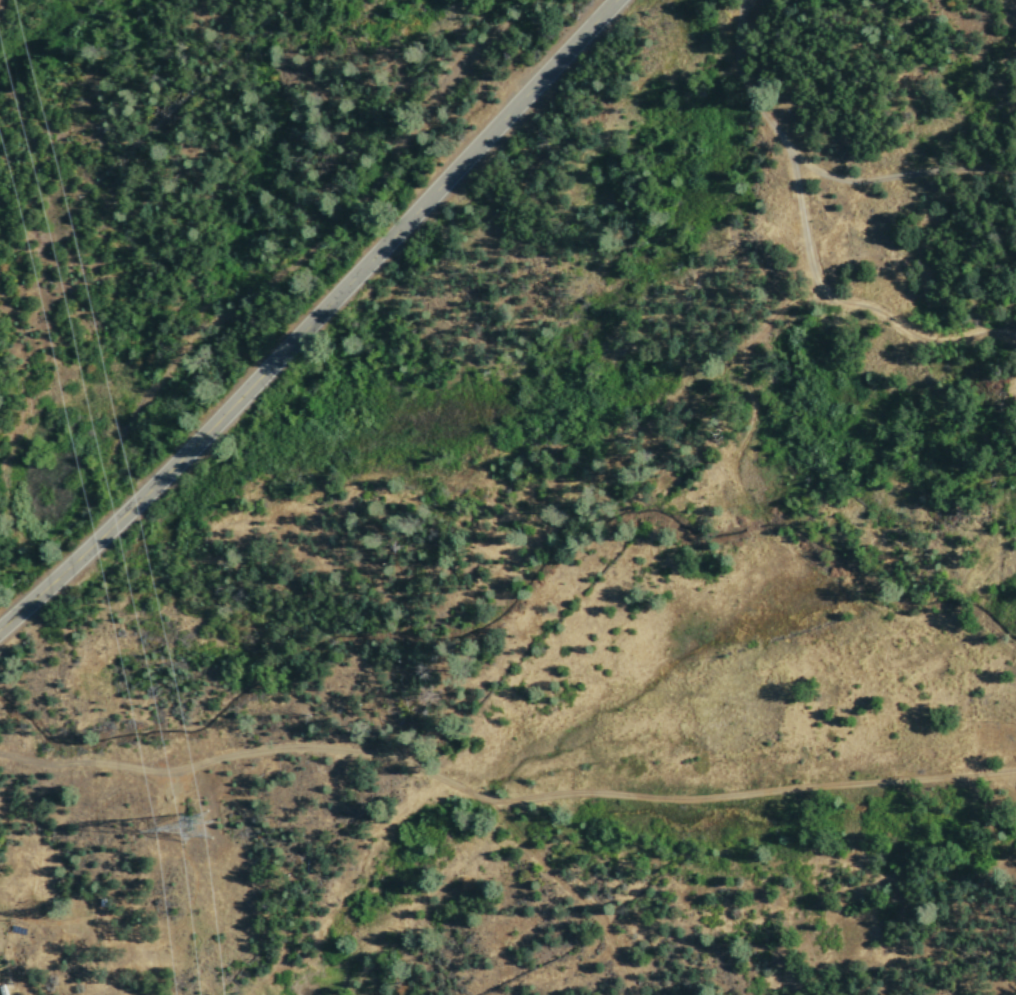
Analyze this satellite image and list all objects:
road: (312, 317)
power tower: (196, 821)

